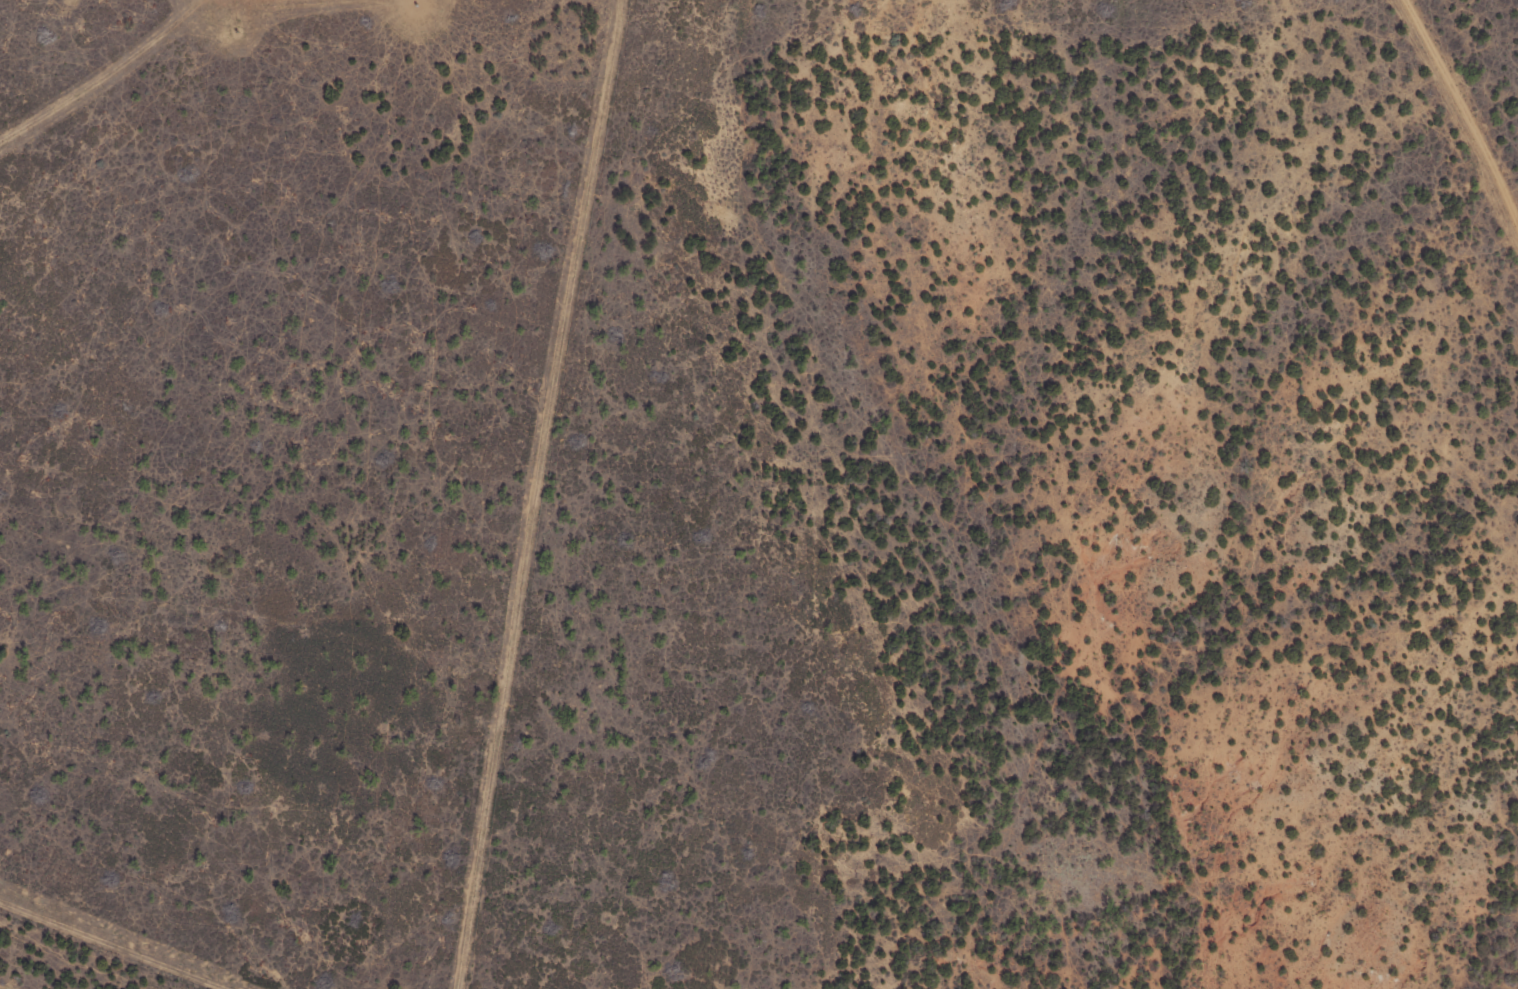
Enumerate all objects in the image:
road: (1458, 106)

